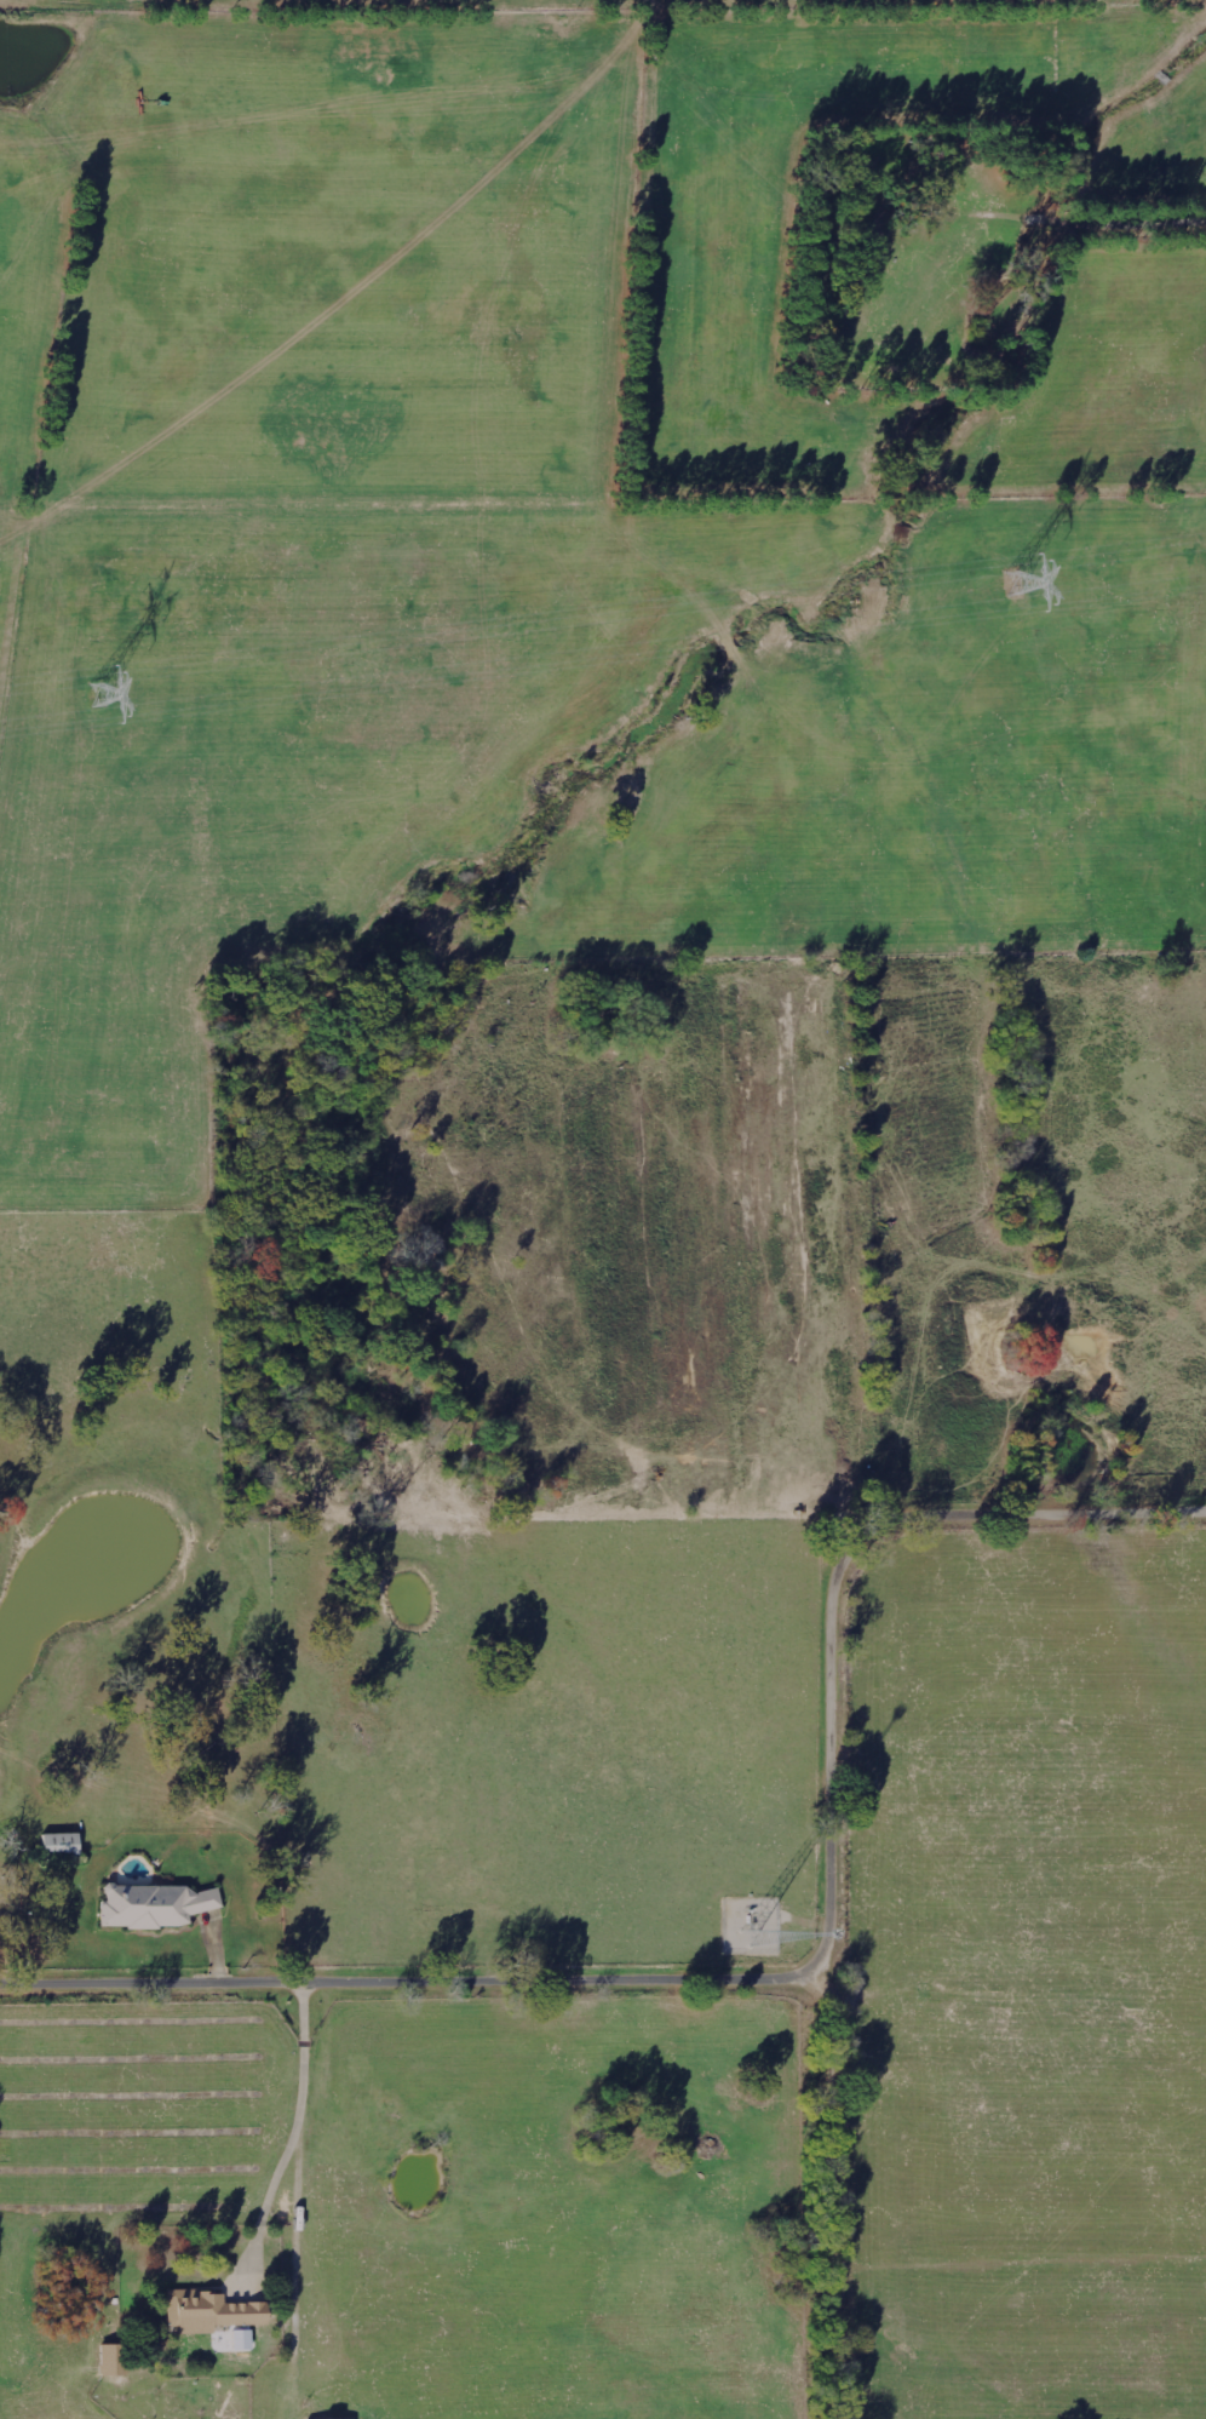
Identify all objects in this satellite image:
road: (1147, 388)
power tower: (1013, 580)
power tower: (93, 693)
road: (840, 1806)
building: (62, 1842)
building: (157, 1905)
road: (419, 1984)
building: (212, 2311)
building: (115, 2360)

